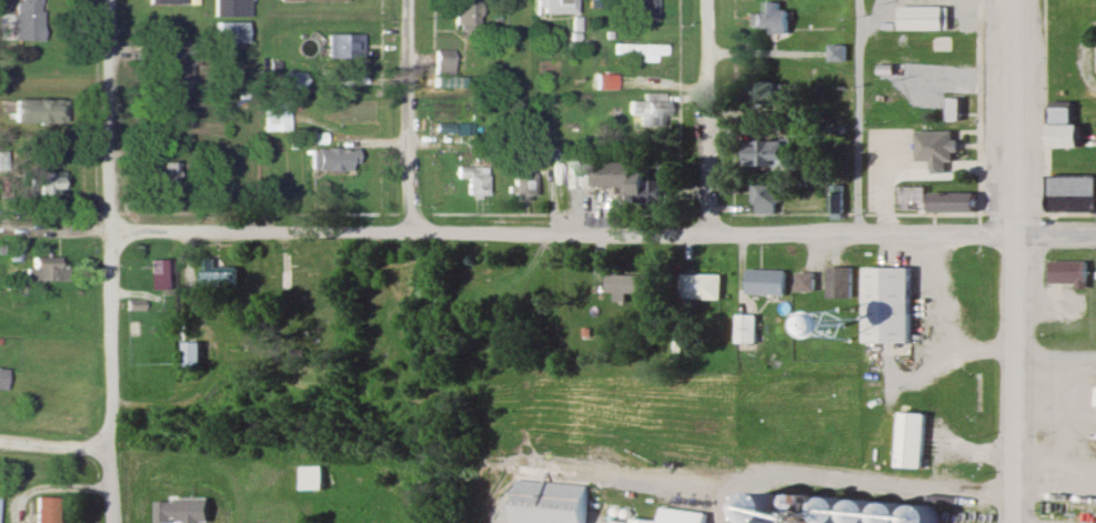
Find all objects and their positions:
building: (168, 1)
building: (312, 1)
building: (559, 7)
building: (231, 8)
building: (643, 10)
building: (464, 14)
building: (921, 17)
building: (773, 18)
building: (24, 20)
building: (229, 31)
building: (344, 44)
building: (641, 51)
building: (837, 52)
building: (443, 62)
building: (179, 68)
building: (946, 78)
building: (294, 81)
building: (768, 97)
building: (954, 108)
building: (650, 110)
building: (47, 111)
road: (406, 115)
road: (704, 115)
road: (857, 117)
building: (275, 119)
building: (1059, 125)
building: (771, 138)
building: (935, 148)
building: (767, 153)
building: (336, 158)
building: (159, 175)
building: (473, 180)
building: (634, 182)
building: (48, 183)
building: (523, 184)
building: (1069, 193)
building: (767, 199)
building: (948, 201)
road: (72, 232)
road: (601, 232)
road: (107, 261)
road: (1012, 261)
building: (44, 270)
building: (1067, 273)
building: (217, 275)
building: (157, 276)
building: (841, 282)
building: (625, 283)
building: (766, 283)
building: (807, 283)
building: (296, 285)
building: (702, 285)
building: (889, 303)
water tower: (839, 328)
building: (747, 333)
road: (958, 348)
building: (193, 354)
building: (1, 378)
road: (430, 439)
building: (911, 440)
road: (52, 449)
building: (309, 477)
road: (856, 483)
road: (52, 487)
building: (546, 502)
building: (46, 510)
building: (358, 511)
building: (641, 521)

